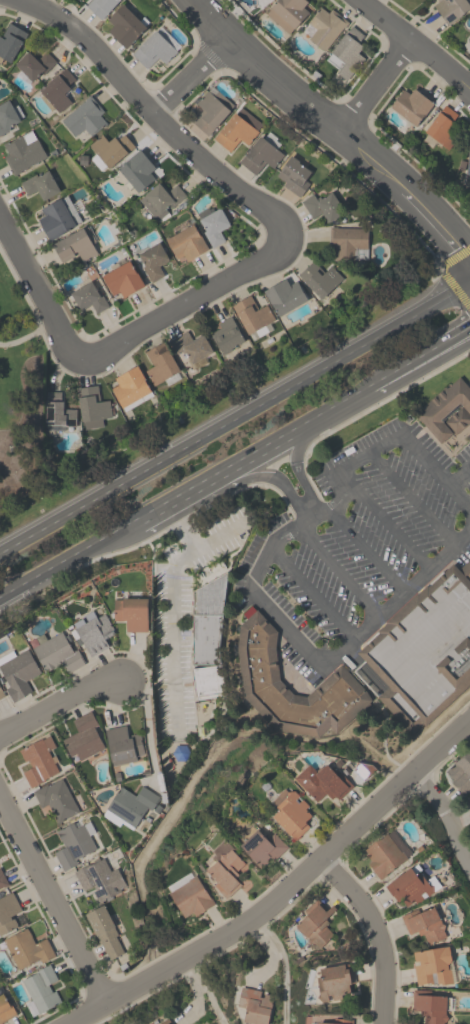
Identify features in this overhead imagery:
building: (100, 6)
building: (450, 9)
building: (287, 13)
building: (125, 25)
building: (325, 26)
building: (469, 40)
building: (10, 41)
road: (417, 42)
building: (152, 50)
building: (346, 52)
building: (32, 65)
road: (189, 75)
road: (379, 85)
building: (56, 89)
building: (410, 105)
building: (210, 109)
road: (150, 113)
building: (8, 115)
building: (85, 117)
road: (337, 125)
building: (441, 128)
building: (237, 129)
building: (110, 148)
building: (22, 151)
building: (260, 155)
building: (467, 168)
building: (136, 170)
building: (294, 175)
building: (40, 184)
building: (161, 200)
building: (322, 206)
building: (57, 217)
building: (213, 226)
building: (186, 242)
building: (348, 242)
building: (76, 244)
road: (453, 256)
building: (152, 259)
building: (122, 278)
building: (318, 278)
road: (453, 287)
road: (38, 293)
building: (284, 296)
building: (88, 297)
road: (188, 303)
building: (252, 317)
building: (225, 335)
road: (28, 337)
building: (190, 345)
road: (418, 349)
building: (159, 363)
building: (130, 388)
road: (334, 400)
building: (91, 407)
park: (22, 409)
building: (447, 410)
building: (57, 412)
road: (236, 418)
road: (257, 446)
road: (370, 452)
road: (295, 466)
road: (436, 473)
road: (458, 474)
road: (269, 477)
road: (345, 479)
road: (166, 499)
road: (412, 499)
road: (182, 523)
road: (390, 528)
road: (364, 548)
road: (60, 560)
building: (465, 568)
road: (338, 569)
road: (258, 571)
road: (312, 593)
road: (396, 600)
road: (172, 605)
building: (131, 612)
building: (92, 632)
building: (207, 637)
building: (424, 650)
building: (57, 653)
building: (258, 671)
building: (17, 672)
building: (1, 693)
road: (60, 711)
building: (82, 736)
building: (122, 744)
building: (38, 761)
building: (460, 772)
building: (321, 782)
building: (56, 799)
building: (469, 801)
building: (128, 806)
building: (291, 812)
road: (441, 819)
building: (73, 843)
building: (262, 847)
building: (383, 855)
building: (224, 869)
building: (99, 879)
building: (2, 881)
building: (408, 887)
road: (283, 889)
building: (189, 895)
building: (7, 911)
road: (55, 912)
building: (423, 924)
building: (315, 925)
building: (103, 931)
road: (373, 935)
building: (26, 948)
road: (267, 960)
road: (284, 962)
building: (432, 965)
building: (334, 981)
building: (41, 988)
road: (202, 989)
road: (194, 991)
building: (254, 1005)
building: (429, 1006)
building: (5, 1009)
building: (326, 1020)
building: (168, 1023)

